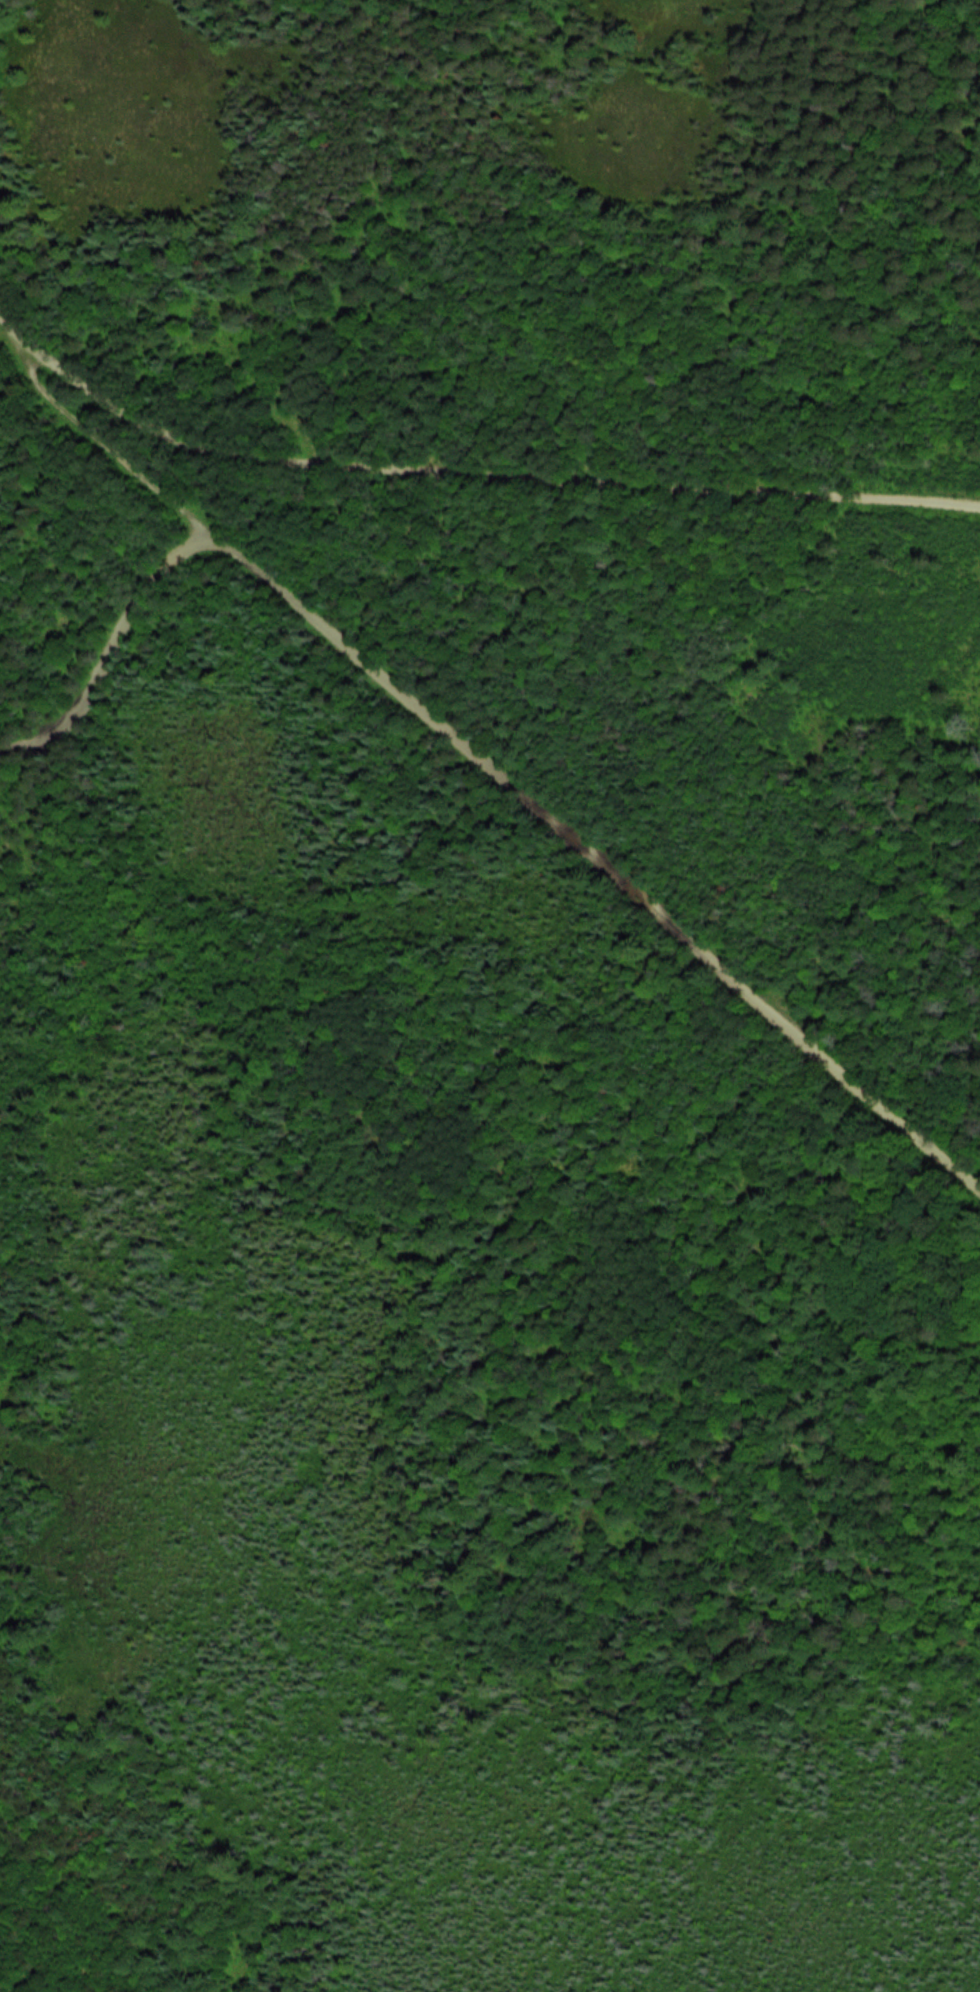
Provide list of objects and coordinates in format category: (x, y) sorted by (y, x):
road: (466, 472)
road: (192, 546)
road: (595, 855)

